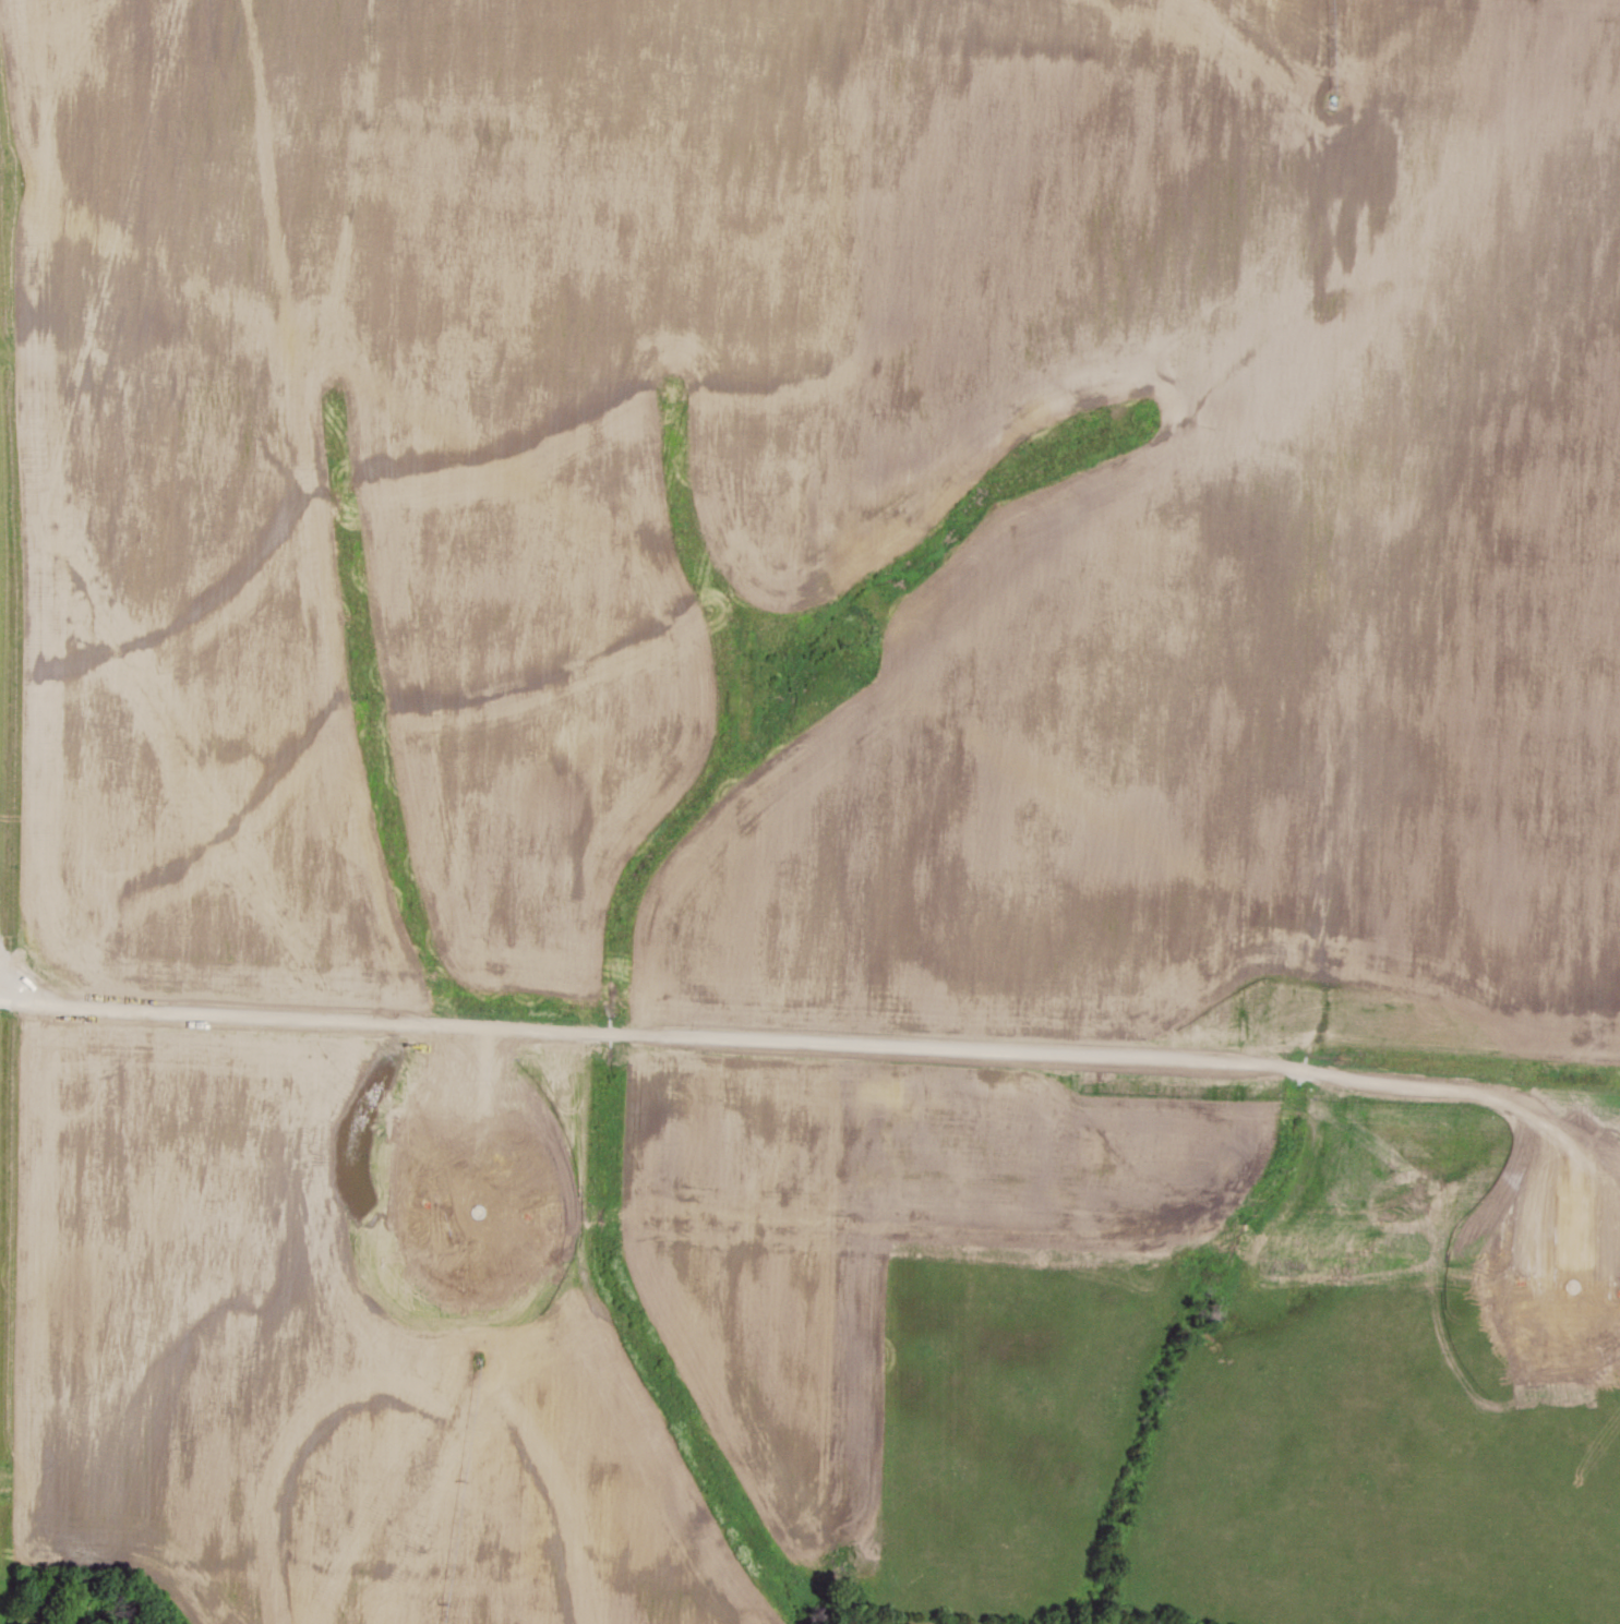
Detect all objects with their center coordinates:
wind turbine: (470, 1220)
wind turbine: (1562, 1287)

